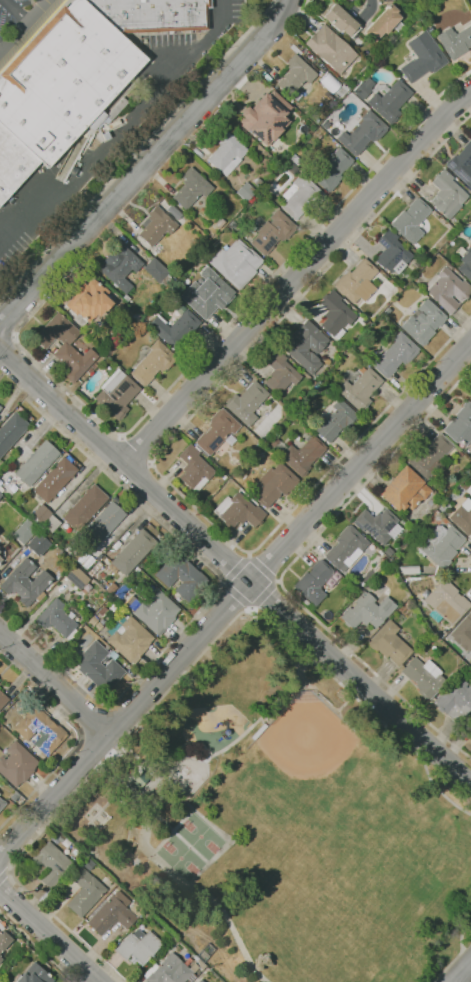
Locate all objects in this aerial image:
road: (368, 9)
road: (15, 10)
road: (300, 17)
road: (303, 18)
building: (339, 19)
parking lot: (21, 22)
building: (382, 23)
road: (23, 25)
building: (399, 28)
building: (455, 41)
road: (1, 45)
building: (330, 49)
building: (422, 58)
building: (76, 75)
building: (295, 77)
building: (363, 88)
building: (341, 91)
building: (390, 101)
building: (265, 117)
building: (325, 124)
road: (125, 128)
building: (362, 133)
road: (136, 151)
building: (226, 153)
building: (295, 160)
road: (147, 162)
building: (462, 164)
building: (292, 169)
building: (332, 170)
building: (257, 182)
building: (191, 188)
building: (245, 192)
building: (447, 194)
building: (300, 196)
building: (173, 212)
building: (411, 221)
building: (220, 223)
building: (155, 226)
building: (272, 232)
building: (391, 253)
building: (466, 263)
building: (236, 264)
building: (119, 267)
building: (157, 271)
road: (295, 277)
building: (357, 282)
building: (446, 289)
building: (206, 294)
building: (125, 297)
building: (88, 300)
building: (335, 314)
building: (422, 322)
road: (229, 323)
road: (8, 326)
building: (174, 326)
building: (91, 331)
building: (65, 346)
building: (304, 346)
building: (102, 353)
building: (395, 355)
building: (152, 363)
building: (280, 372)
building: (360, 389)
building: (116, 394)
building: (470, 398)
building: (246, 403)
building: (0, 407)
building: (0, 408)
building: (334, 420)
building: (460, 425)
building: (11, 431)
building: (216, 432)
road: (99, 444)
road: (137, 449)
building: (303, 455)
road: (155, 457)
building: (430, 457)
building: (36, 463)
building: (194, 469)
road: (137, 476)
building: (54, 480)
building: (275, 485)
building: (404, 490)
building: (1, 491)
building: (0, 495)
building: (84, 508)
building: (237, 511)
building: (40, 513)
building: (462, 519)
building: (51, 524)
building: (102, 524)
building: (378, 525)
building: (24, 532)
road: (181, 542)
building: (37, 543)
building: (441, 545)
building: (345, 548)
building: (379, 552)
building: (388, 552)
building: (131, 553)
building: (1, 556)
building: (82, 557)
building: (0, 560)
building: (87, 562)
road: (233, 567)
road: (236, 569)
road: (263, 569)
building: (408, 569)
road: (286, 570)
building: (180, 576)
building: (76, 578)
building: (24, 582)
building: (313, 582)
building: (110, 588)
building: (121, 591)
road: (264, 594)
road: (237, 595)
road: (235, 597)
building: (446, 603)
building: (154, 610)
building: (366, 611)
building: (102, 612)
building: (59, 618)
building: (92, 620)
building: (466, 622)
building: (469, 633)
building: (79, 635)
building: (129, 638)
building: (389, 644)
building: (96, 665)
building: (423, 677)
road: (177, 681)
road: (54, 685)
road: (80, 685)
building: (2, 699)
building: (455, 700)
road: (119, 719)
road: (94, 722)
building: (467, 726)
building: (39, 731)
road: (93, 748)
road: (65, 757)
building: (16, 764)
building: (138, 778)
park: (307, 782)
building: (159, 799)
building: (2, 803)
park: (281, 822)
park: (200, 837)
park: (181, 858)
building: (50, 863)
road: (5, 871)
road: (2, 874)
building: (84, 892)
building: (110, 916)
road: (49, 936)
building: (4, 940)
road: (36, 947)
building: (137, 947)
road: (458, 953)
building: (0, 959)
road: (462, 963)
building: (170, 971)
road: (95, 972)
road: (461, 972)
building: (34, 974)
building: (198, 981)
building: (200, 981)
road: (455, 981)

